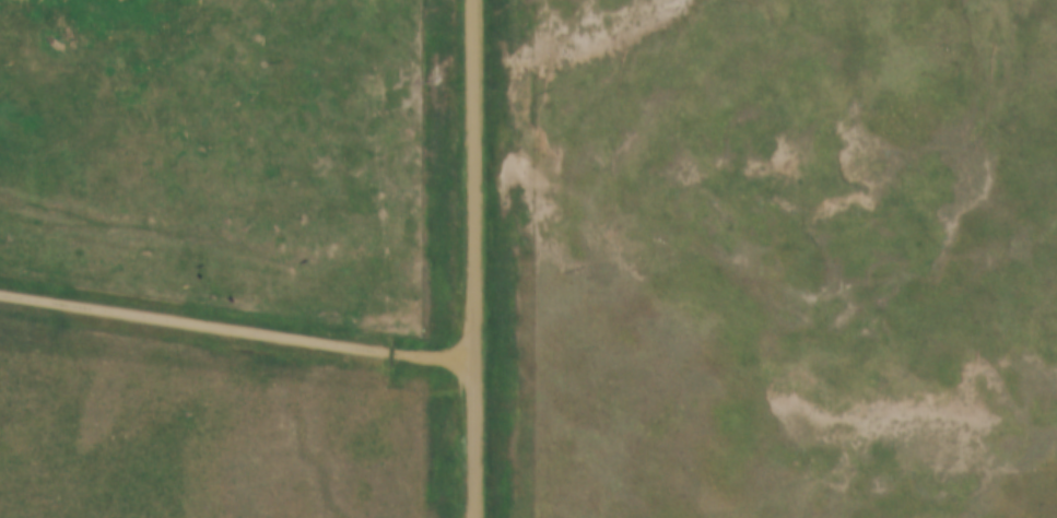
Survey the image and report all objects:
road: (471, 259)
road: (235, 330)

